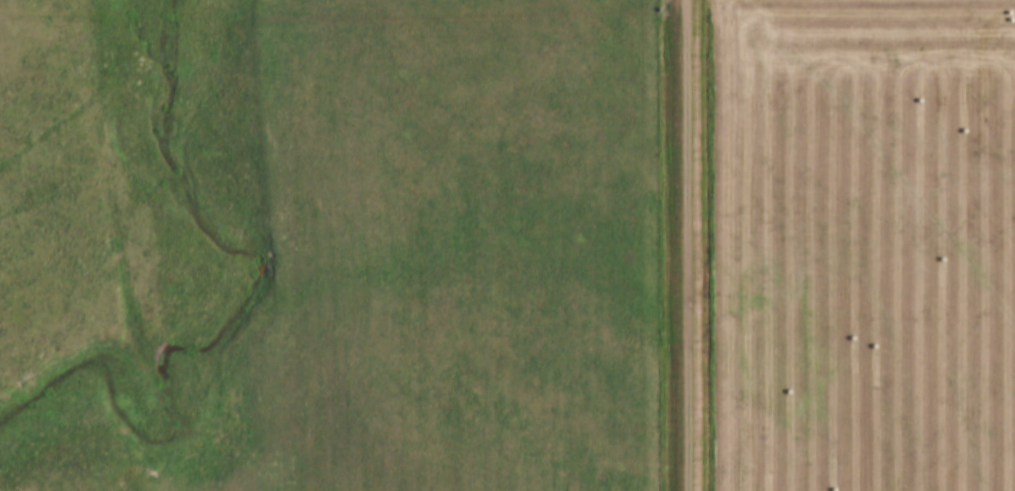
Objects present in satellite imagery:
road: (690, 245)

